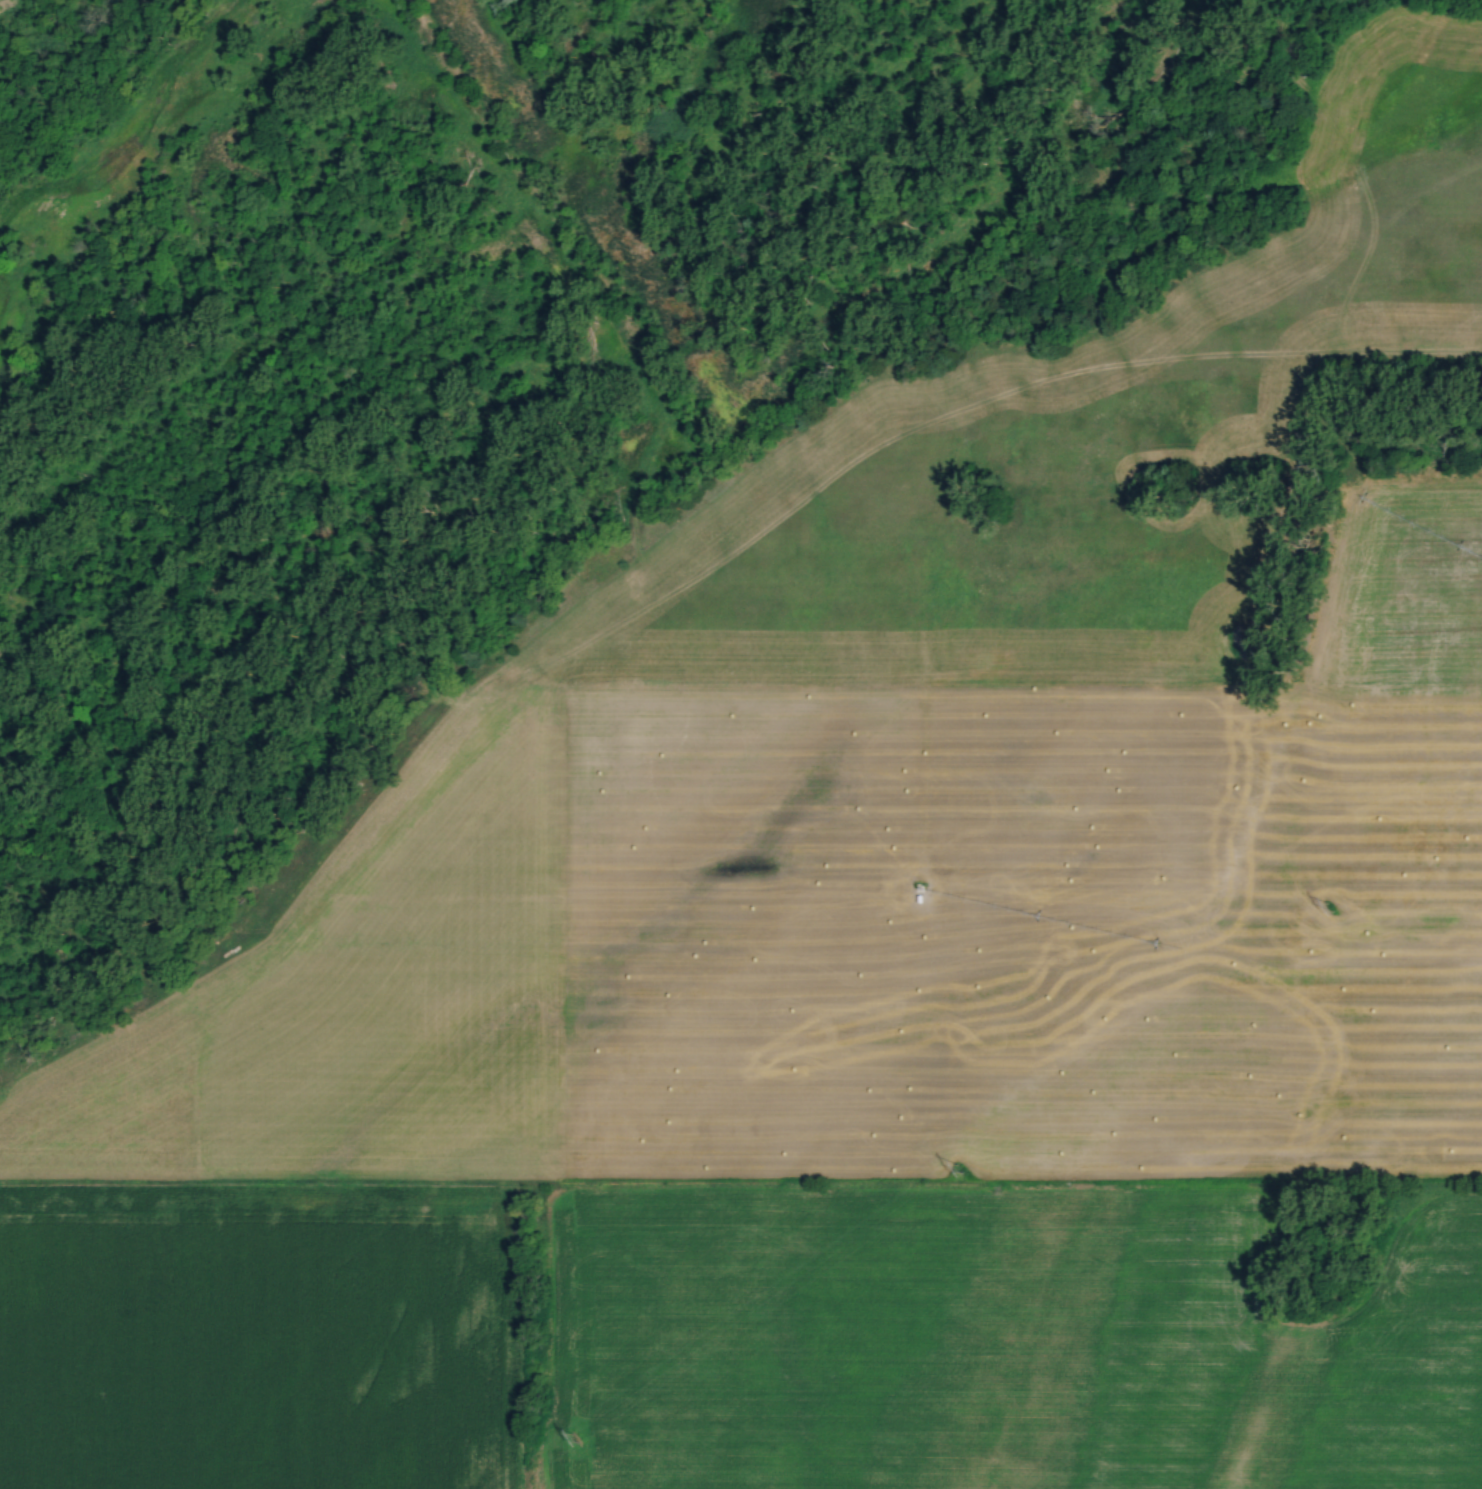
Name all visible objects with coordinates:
power tower: (1327, 908)
power tower: (957, 1168)
power tower: (574, 1439)

